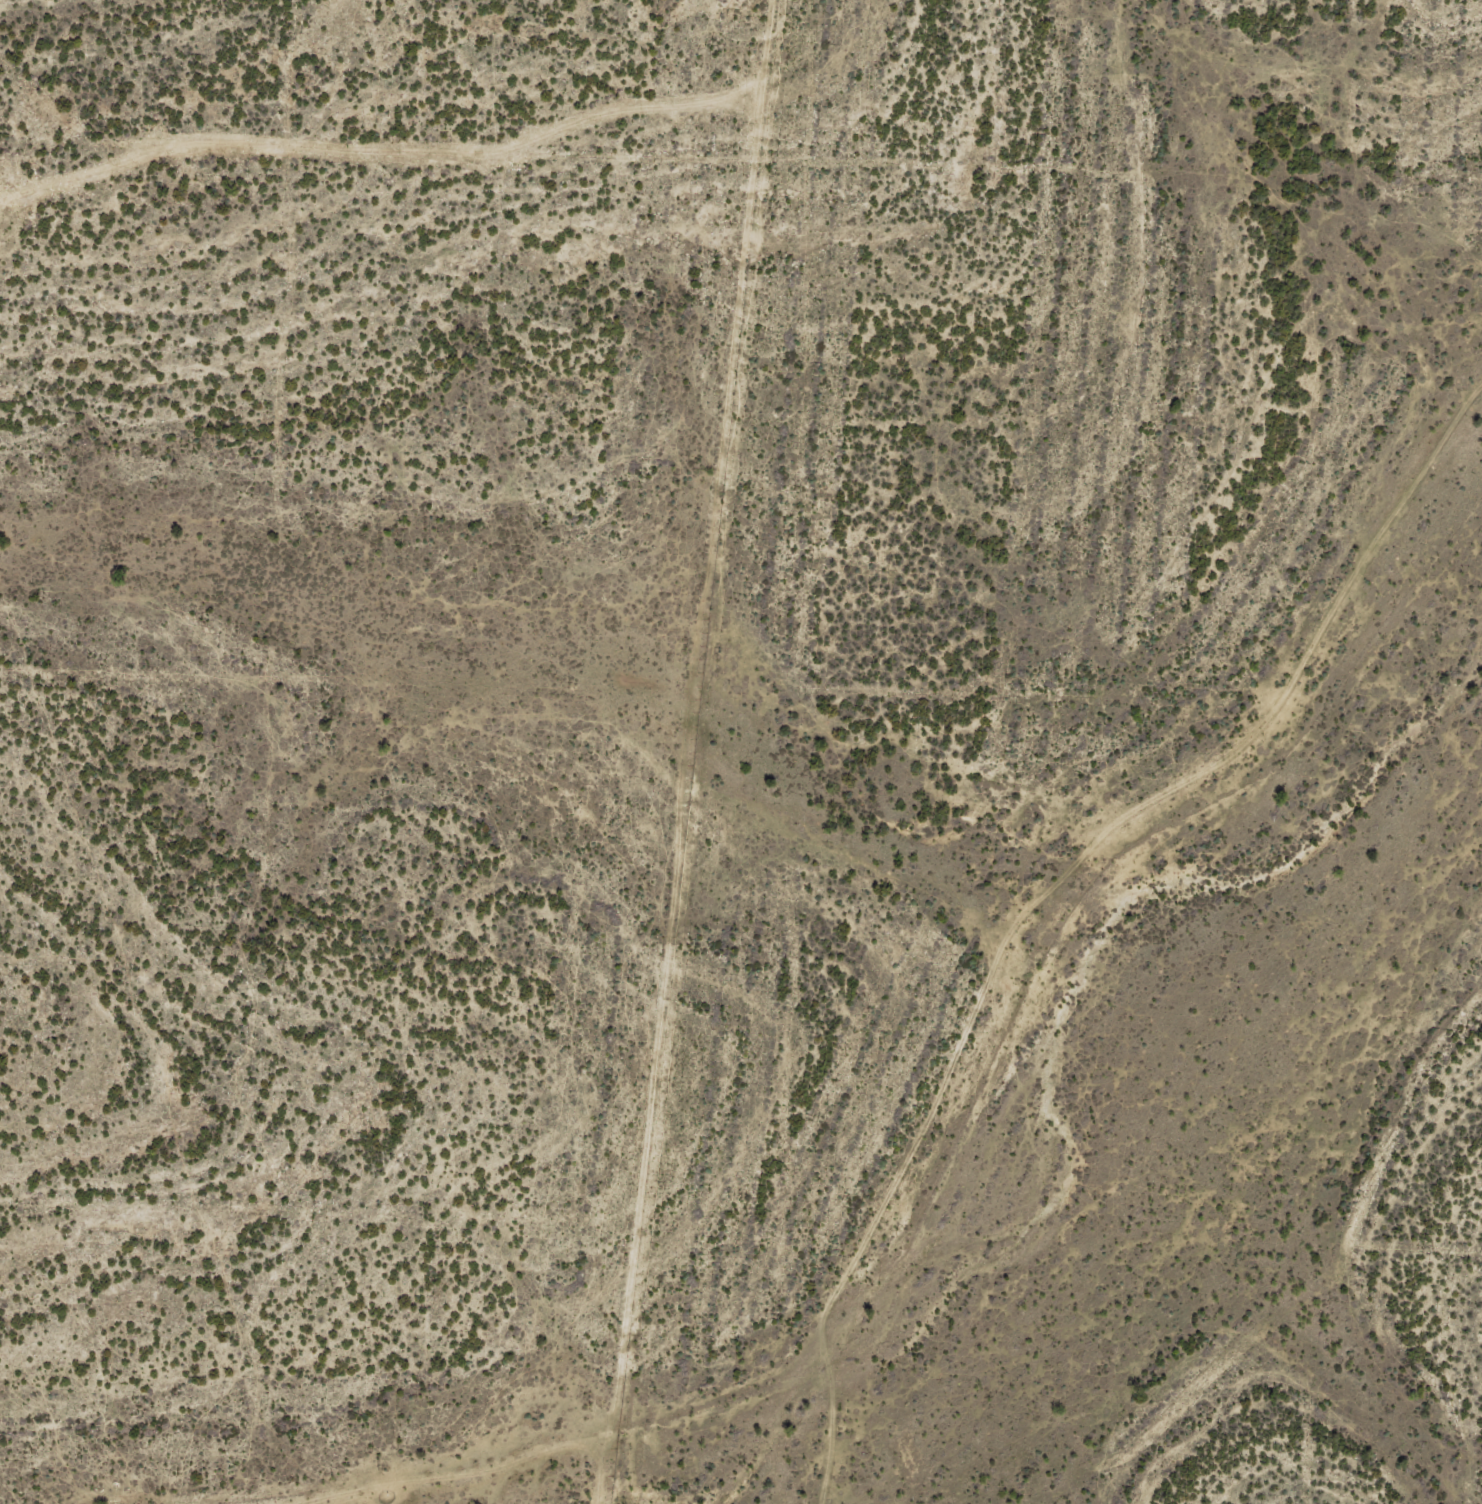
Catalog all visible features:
road: (1303, 639)
road: (1091, 788)

